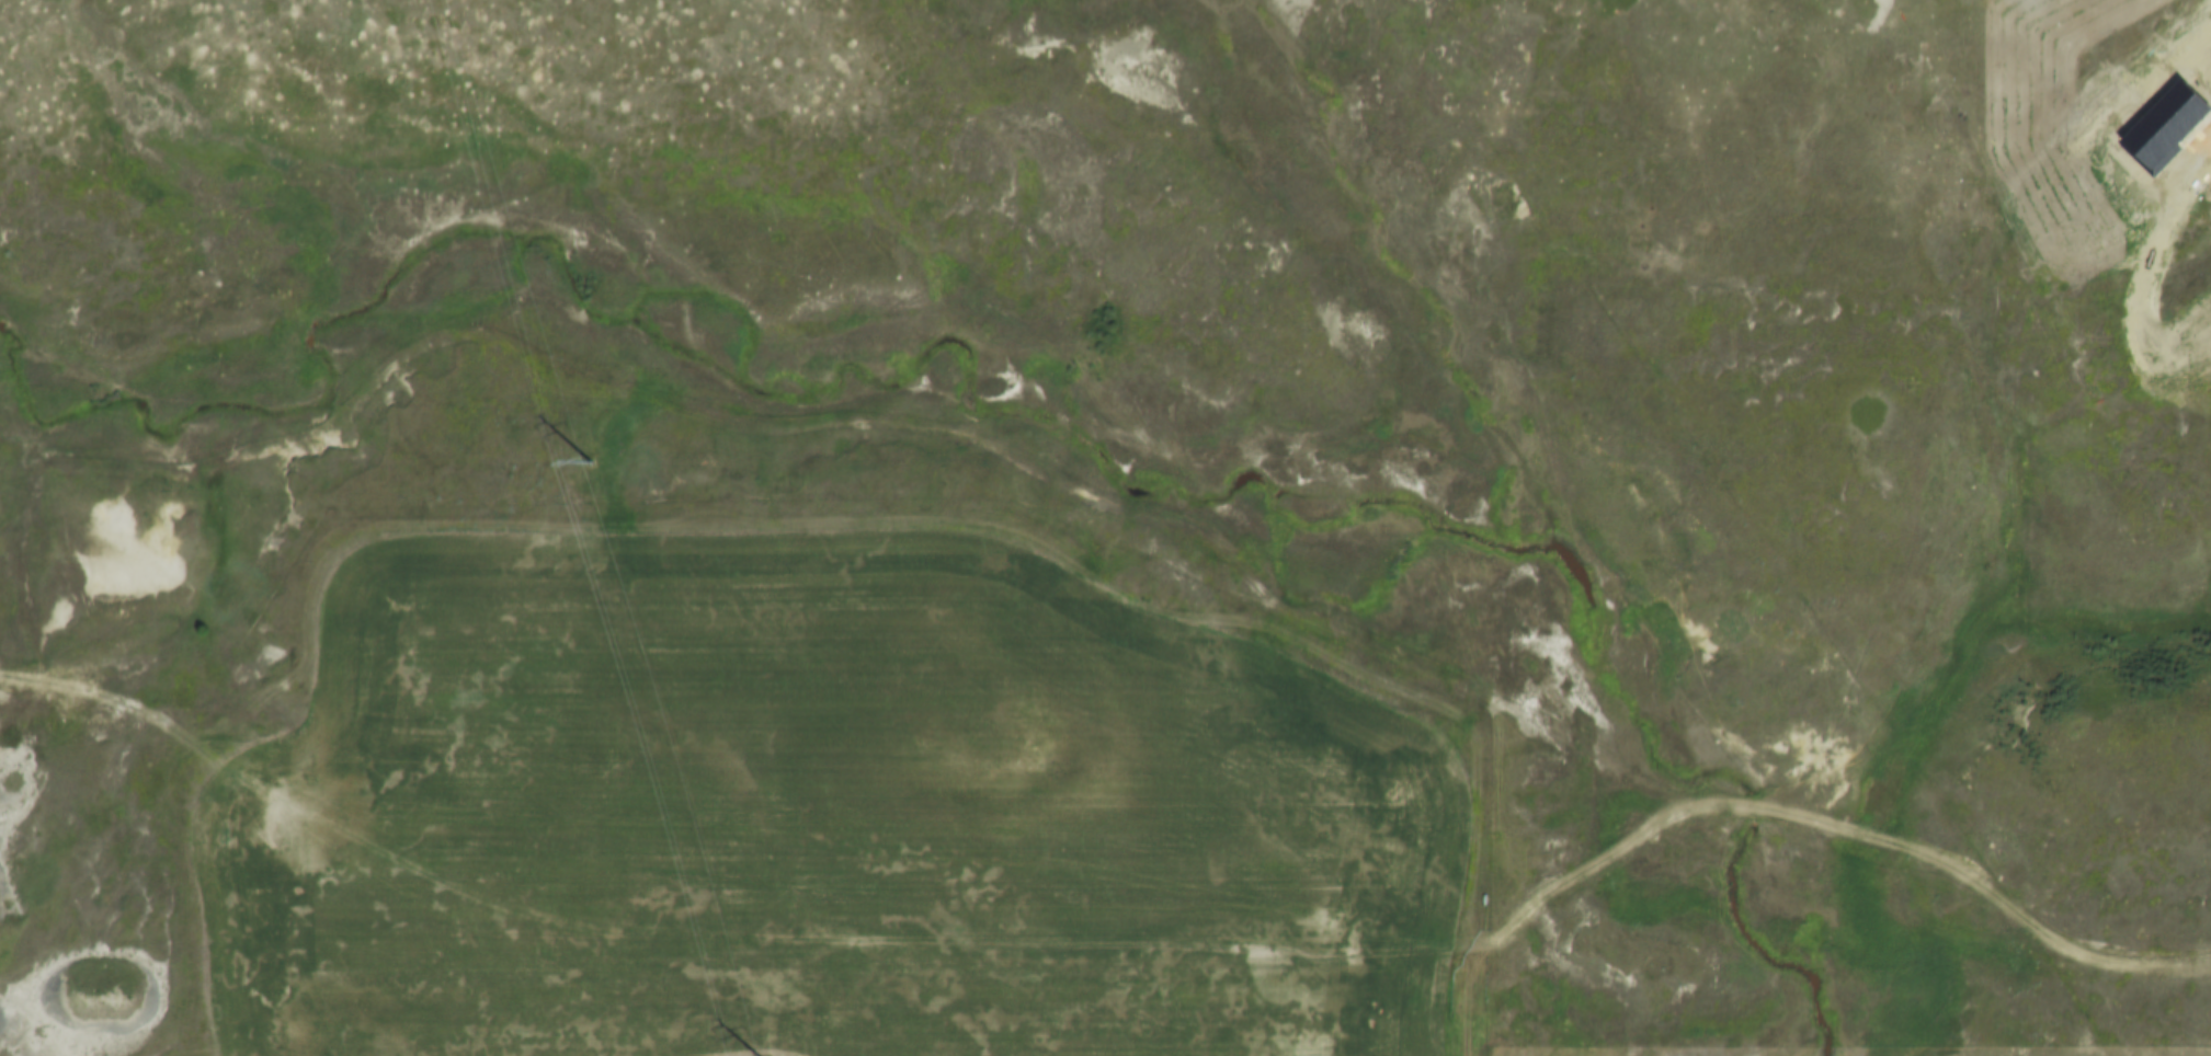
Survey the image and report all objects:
power tower: (589, 462)
road: (807, 523)
road: (1823, 818)
road: (1457, 1012)

